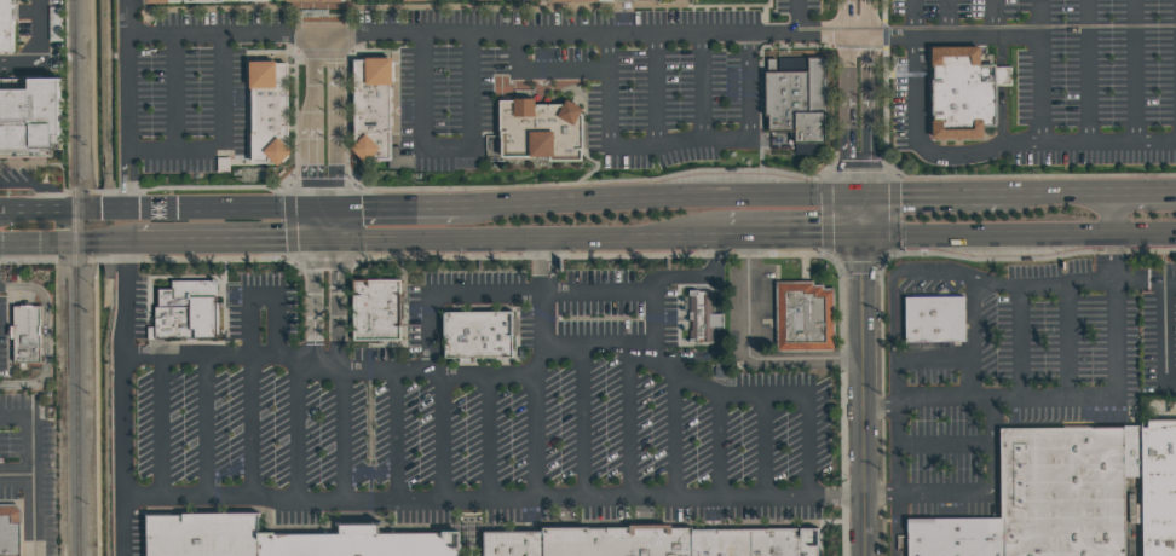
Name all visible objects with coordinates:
building: (358, 1)
road: (799, 17)
road: (866, 17)
road: (913, 17)
road: (947, 17)
road: (998, 17)
building: (6, 28)
road: (225, 34)
road: (680, 34)
road: (39, 52)
road: (1039, 70)
road: (1088, 70)
road: (1136, 70)
road: (541, 73)
road: (702, 86)
road: (750, 87)
road: (471, 88)
road: (609, 89)
road: (655, 89)
road: (223, 91)
road: (173, 92)
building: (962, 93)
road: (844, 100)
road: (128, 104)
building: (797, 106)
building: (371, 108)
building: (269, 110)
road: (422, 112)
road: (867, 116)
building: (29, 118)
building: (540, 134)
road: (681, 141)
road: (1107, 141)
road: (924, 147)
road: (175, 149)
road: (31, 185)
road: (1145, 195)
road: (1057, 196)
road: (930, 197)
traffic signals: (861, 198)
road: (324, 201)
road: (659, 201)
road: (392, 204)
road: (201, 207)
road: (39, 209)
road: (1114, 214)
road: (861, 215)
road: (1148, 231)
road: (988, 232)
road: (1117, 232)
road: (789, 233)
traffic signals: (863, 233)
road: (521, 239)
road: (225, 242)
road: (100, 243)
road: (39, 244)
road: (1119, 256)
railway: (65, 277)
road: (664, 277)
road: (979, 277)
railway: (77, 278)
road: (1140, 280)
road: (1169, 282)
road: (1093, 283)
road: (598, 290)
road: (485, 291)
road: (543, 293)
road: (264, 295)
building: (189, 318)
building: (379, 318)
building: (803, 319)
building: (694, 320)
building: (935, 324)
road: (278, 326)
road: (428, 334)
building: (24, 335)
road: (1164, 336)
road: (975, 337)
building: (480, 340)
road: (1119, 340)
road: (1071, 341)
road: (1019, 343)
road: (746, 351)
road: (935, 359)
road: (529, 381)
road: (1170, 388)
road: (863, 394)
road: (250, 398)
road: (121, 399)
road: (1008, 399)
road: (880, 404)
road: (897, 417)
road: (583, 422)
road: (630, 424)
road: (161, 429)
road: (202, 429)
road: (298, 432)
road: (346, 435)
road: (397, 435)
road: (674, 435)
road: (443, 440)
road: (490, 440)
road: (536, 440)
road: (945, 445)
road: (992, 446)
road: (722, 447)
road: (766, 447)
building: (1160, 491)
building: (1067, 493)
road: (945, 494)
road: (881, 496)
road: (532, 499)
road: (163, 500)
building: (12, 533)
building: (957, 539)
building: (783, 540)
building: (617, 541)
building: (720, 541)
building: (460, 543)
building: (201, 544)
building: (318, 544)

